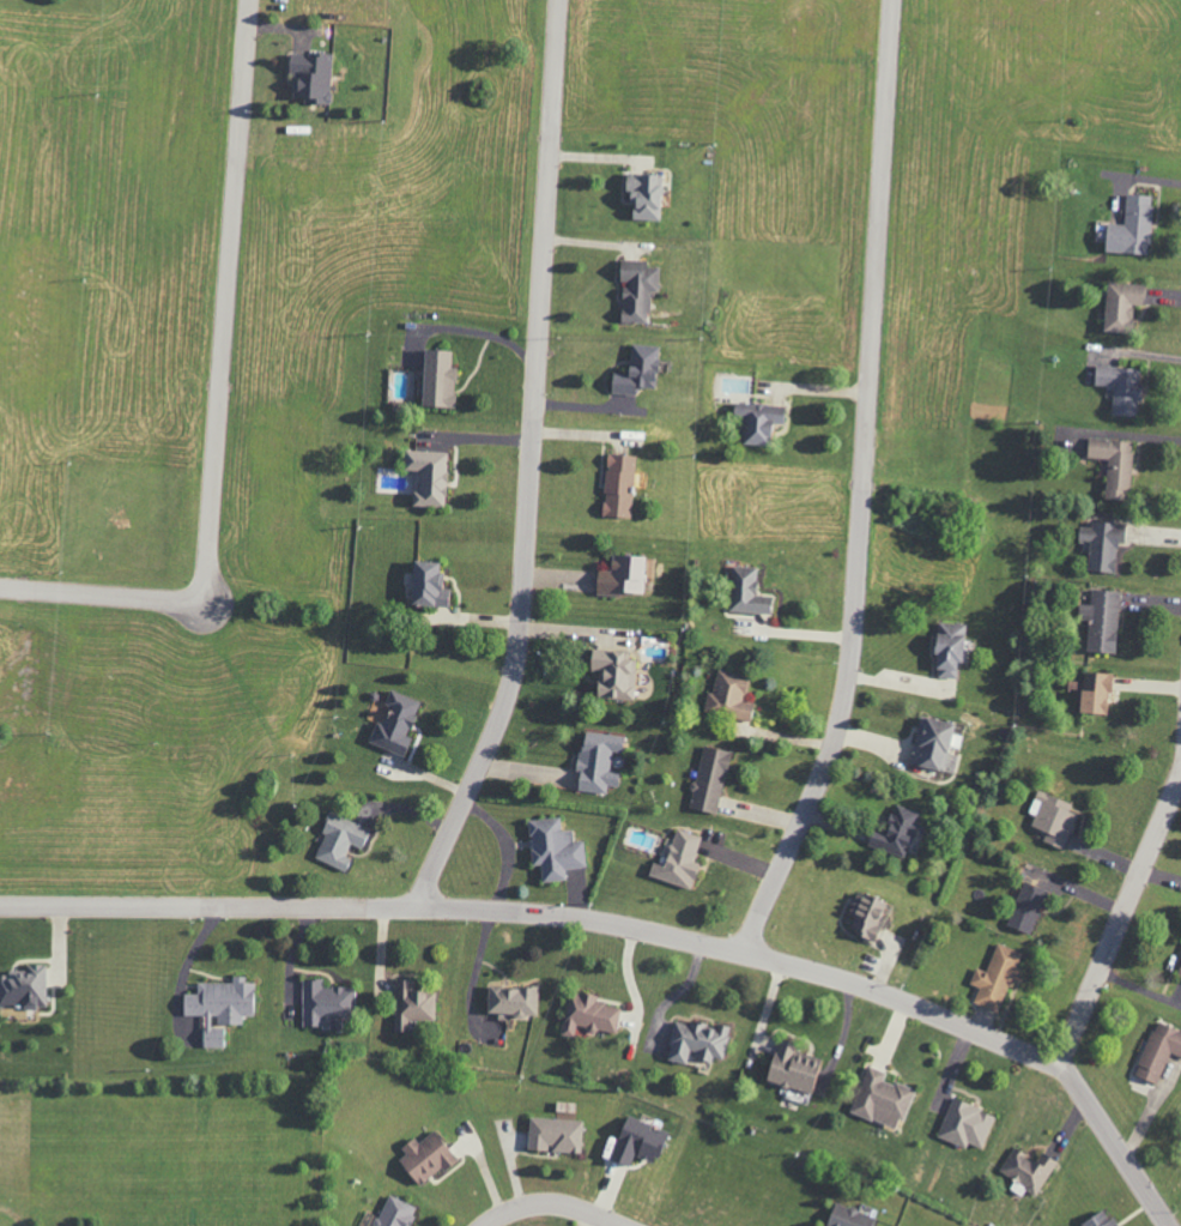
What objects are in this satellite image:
building: (309, 77)
building: (642, 197)
building: (1129, 228)
building: (635, 290)
building: (1120, 306)
building: (635, 370)
building: (437, 380)
building: (1120, 388)
road: (216, 401)
building: (756, 421)
road: (528, 464)
building: (1113, 465)
building: (426, 478)
road: (860, 485)
building: (617, 487)
building: (1101, 545)
building: (618, 574)
building: (425, 584)
building: (746, 592)
building: (1101, 620)
building: (949, 648)
building: (612, 672)
building: (1094, 691)
building: (728, 696)
building: (393, 721)
building: (932, 742)
building: (596, 761)
building: (708, 779)
building: (1052, 817)
building: (894, 831)
building: (339, 840)
building: (552, 848)
building: (677, 858)
building: (1025, 907)
road: (541, 912)
building: (865, 916)
road: (1120, 917)
road: (476, 966)
building: (995, 977)
building: (1180, 977)
building: (23, 988)
building: (510, 999)
building: (325, 1002)
building: (410, 1004)
building: (219, 1007)
building: (587, 1014)
building: (695, 1041)
building: (1157, 1051)
building: (792, 1068)
building: (879, 1098)
building: (964, 1124)
building: (553, 1135)
building: (636, 1141)
road: (1113, 1146)
park: (162, 1150)
building: (423, 1156)
road: (550, 1202)
building: (393, 1213)
building: (847, 1216)
building: (1098, 1219)

